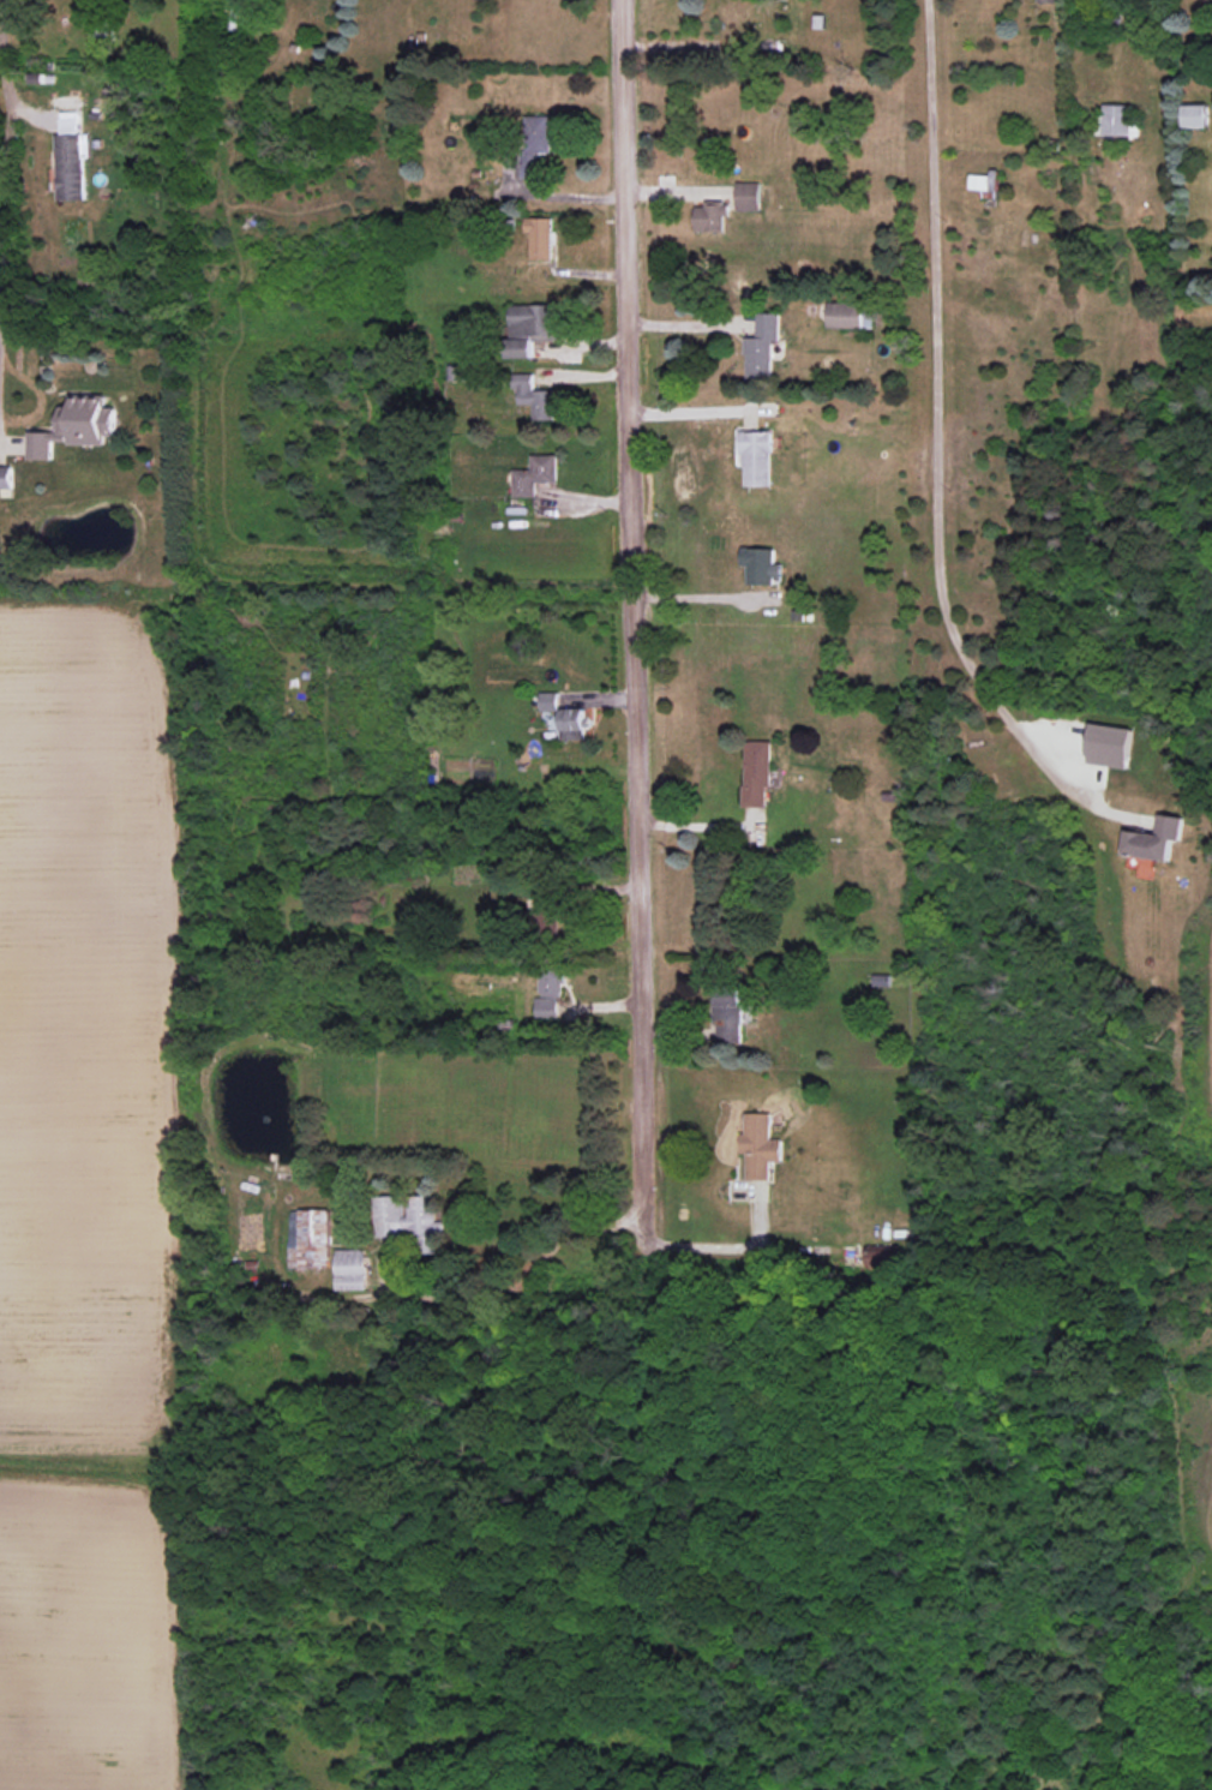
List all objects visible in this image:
building: (1049, 1)
road: (6, 80)
building: (1195, 115)
building: (1117, 120)
building: (536, 143)
building: (71, 157)
building: (749, 196)
road: (556, 197)
building: (712, 216)
building: (540, 237)
building: (846, 315)
building: (530, 327)
building: (762, 346)
building: (534, 396)
road: (938, 421)
building: (76, 426)
building: (757, 457)
building: (534, 474)
building: (6, 477)
building: (762, 564)
road: (630, 586)
road: (697, 605)
building: (548, 701)
building: (572, 724)
building: (1109, 746)
building: (756, 773)
road: (698, 826)
building: (1157, 839)
building: (546, 909)
building: (551, 989)
building: (730, 1014)
building: (761, 1145)
road: (637, 1196)
building: (412, 1219)
road: (564, 1237)
building: (310, 1238)
road: (708, 1245)
building: (881, 1256)
building: (350, 1269)
road: (458, 1297)

